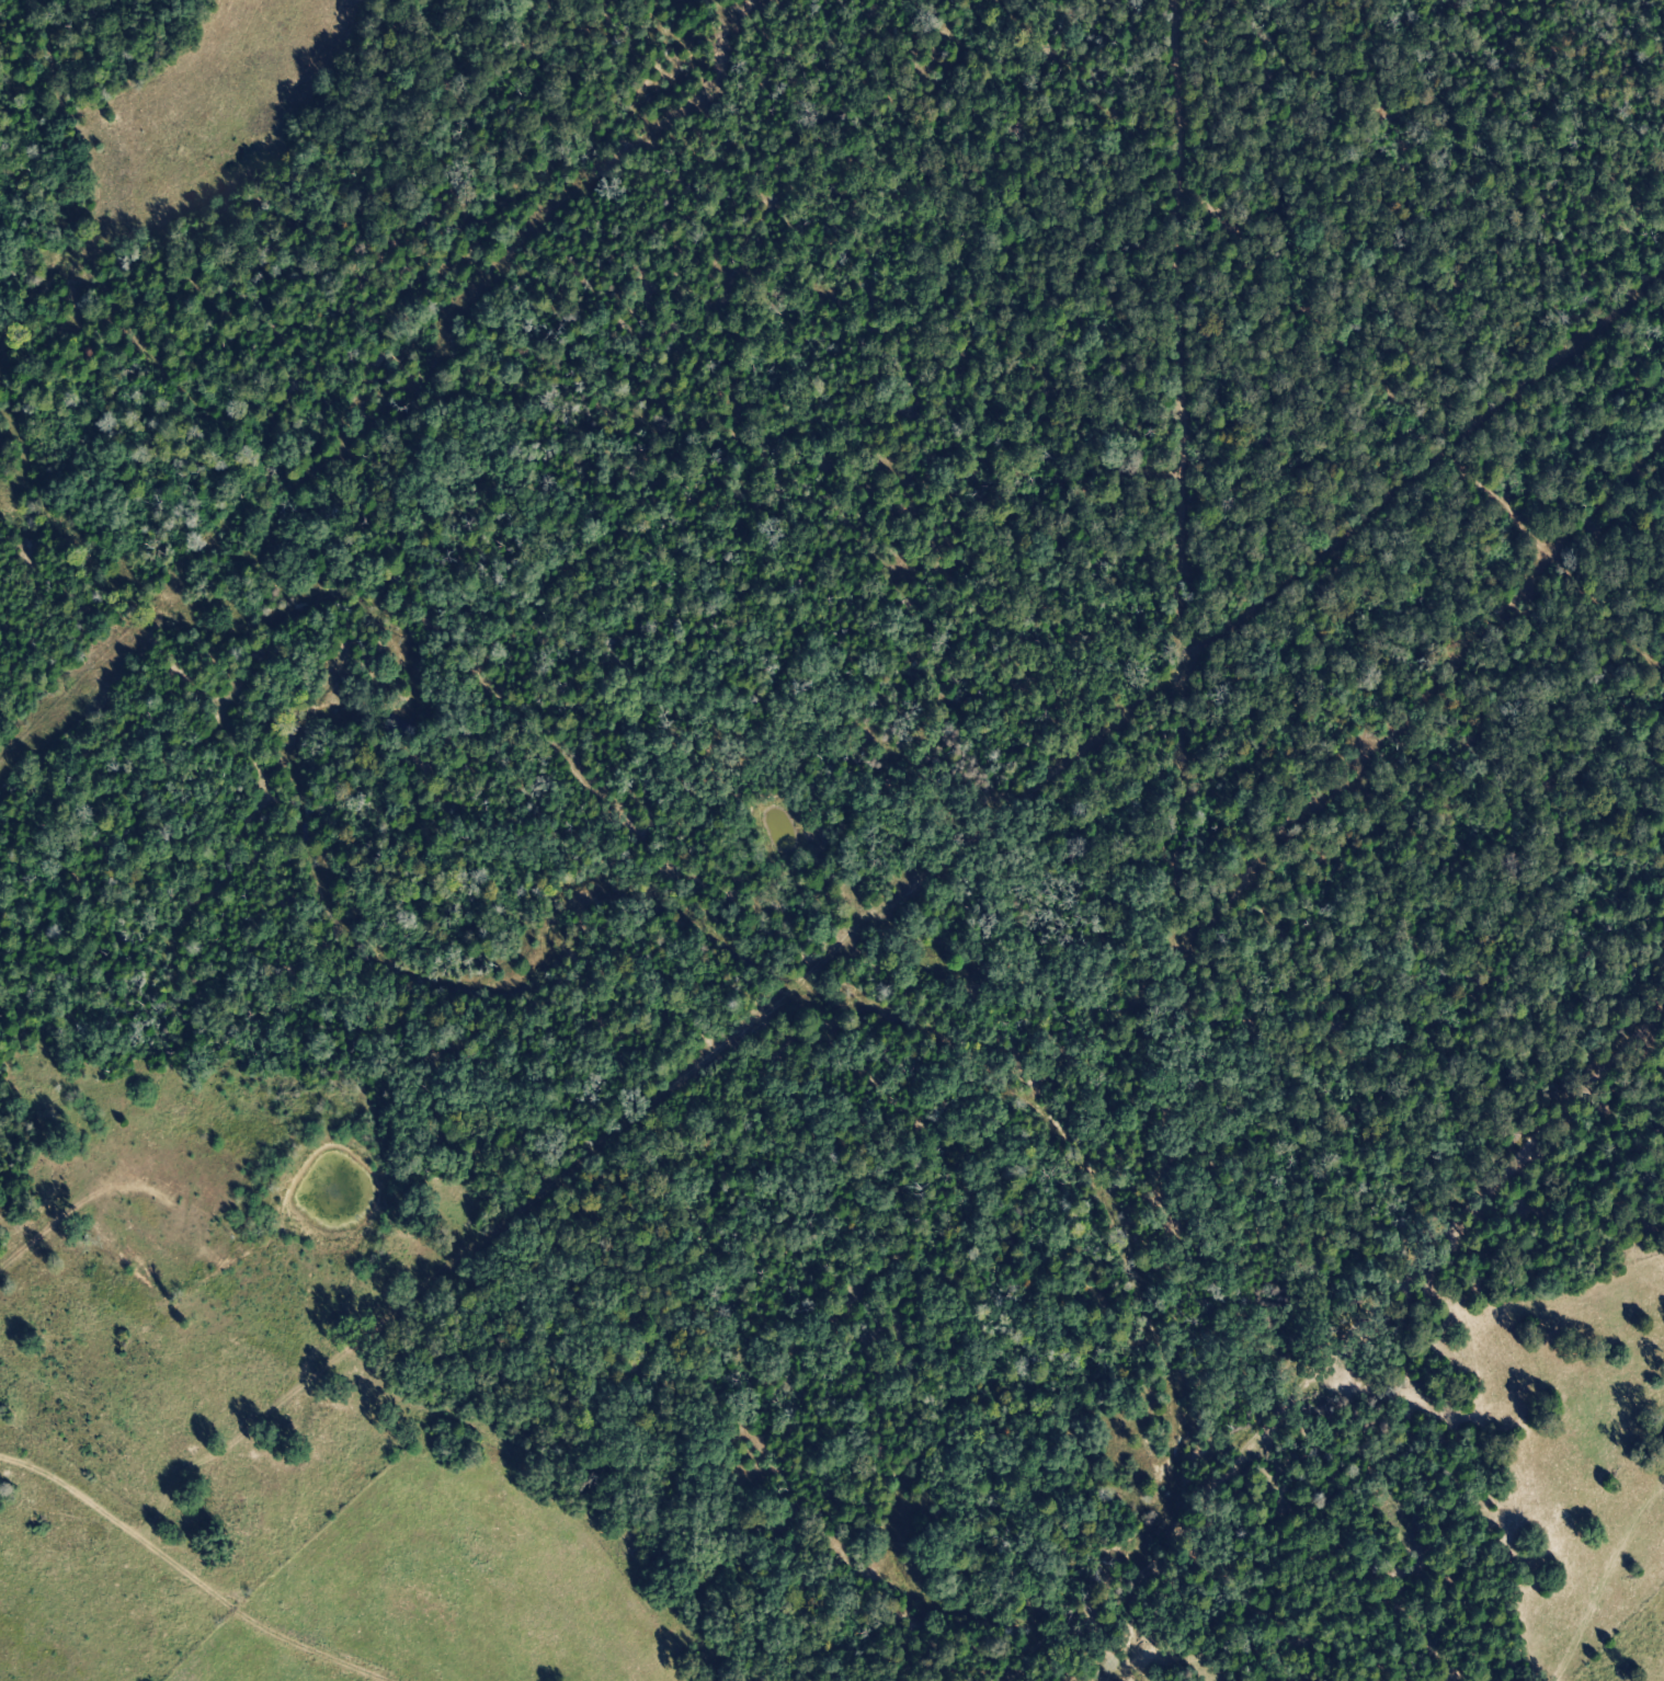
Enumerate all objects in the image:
road: (62, 1221)

